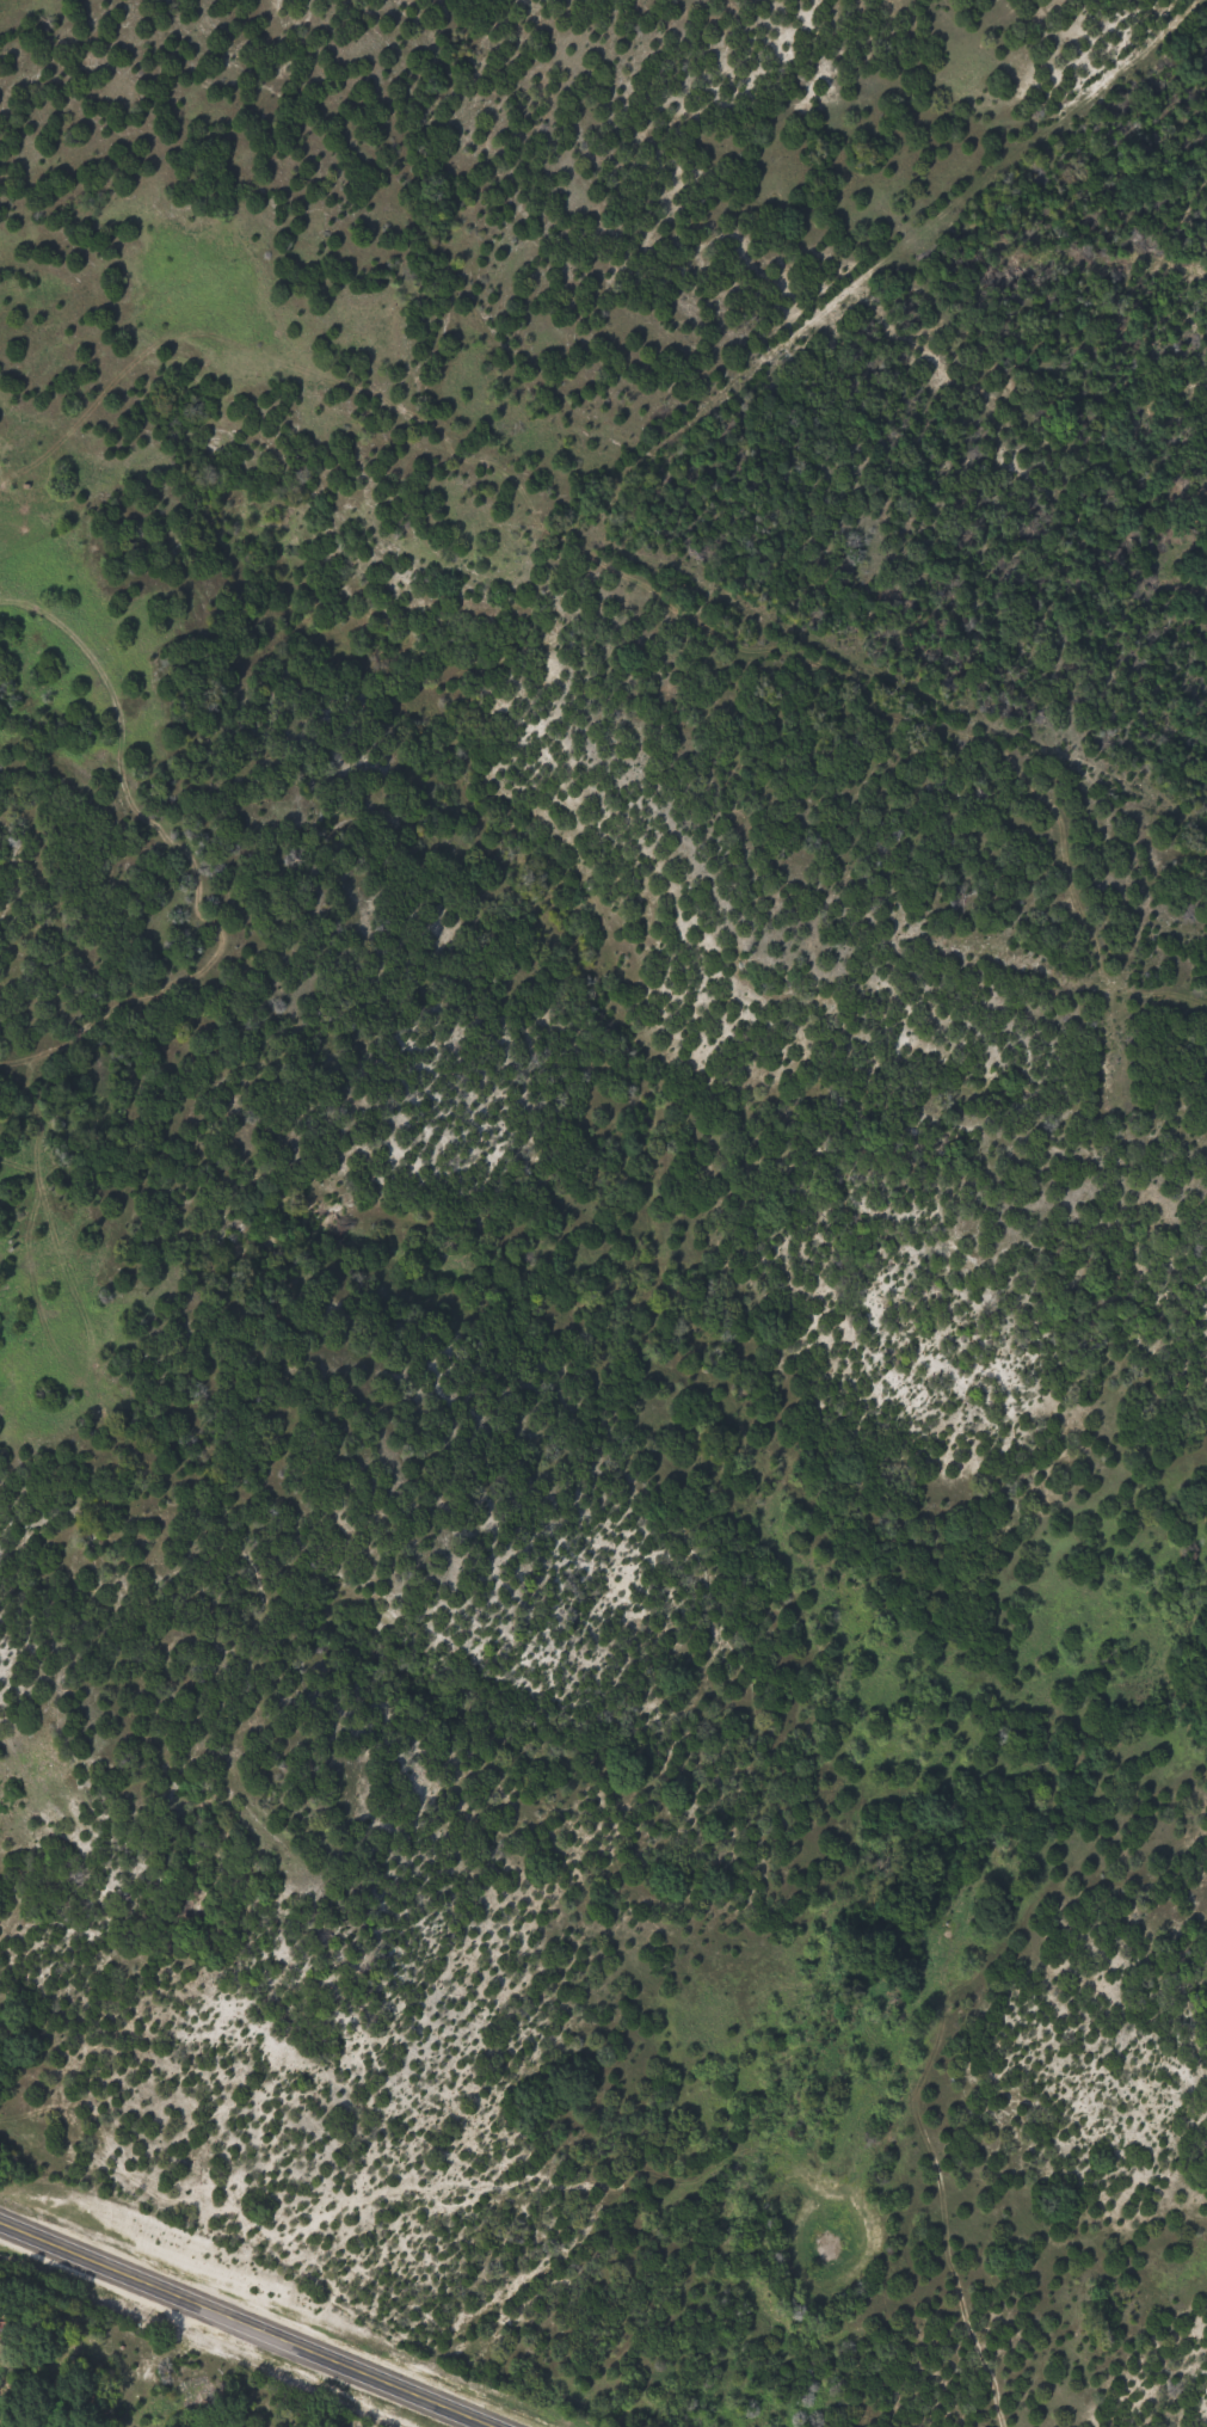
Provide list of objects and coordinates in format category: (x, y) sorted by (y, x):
road: (58, 1032)
road: (254, 2321)
building: (190, 2390)

